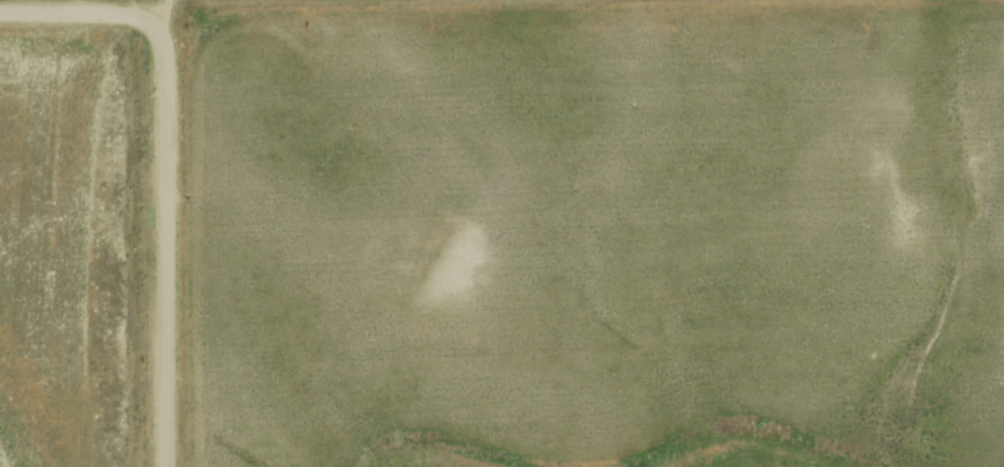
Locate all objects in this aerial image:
road: (79, 12)
road: (166, 230)

